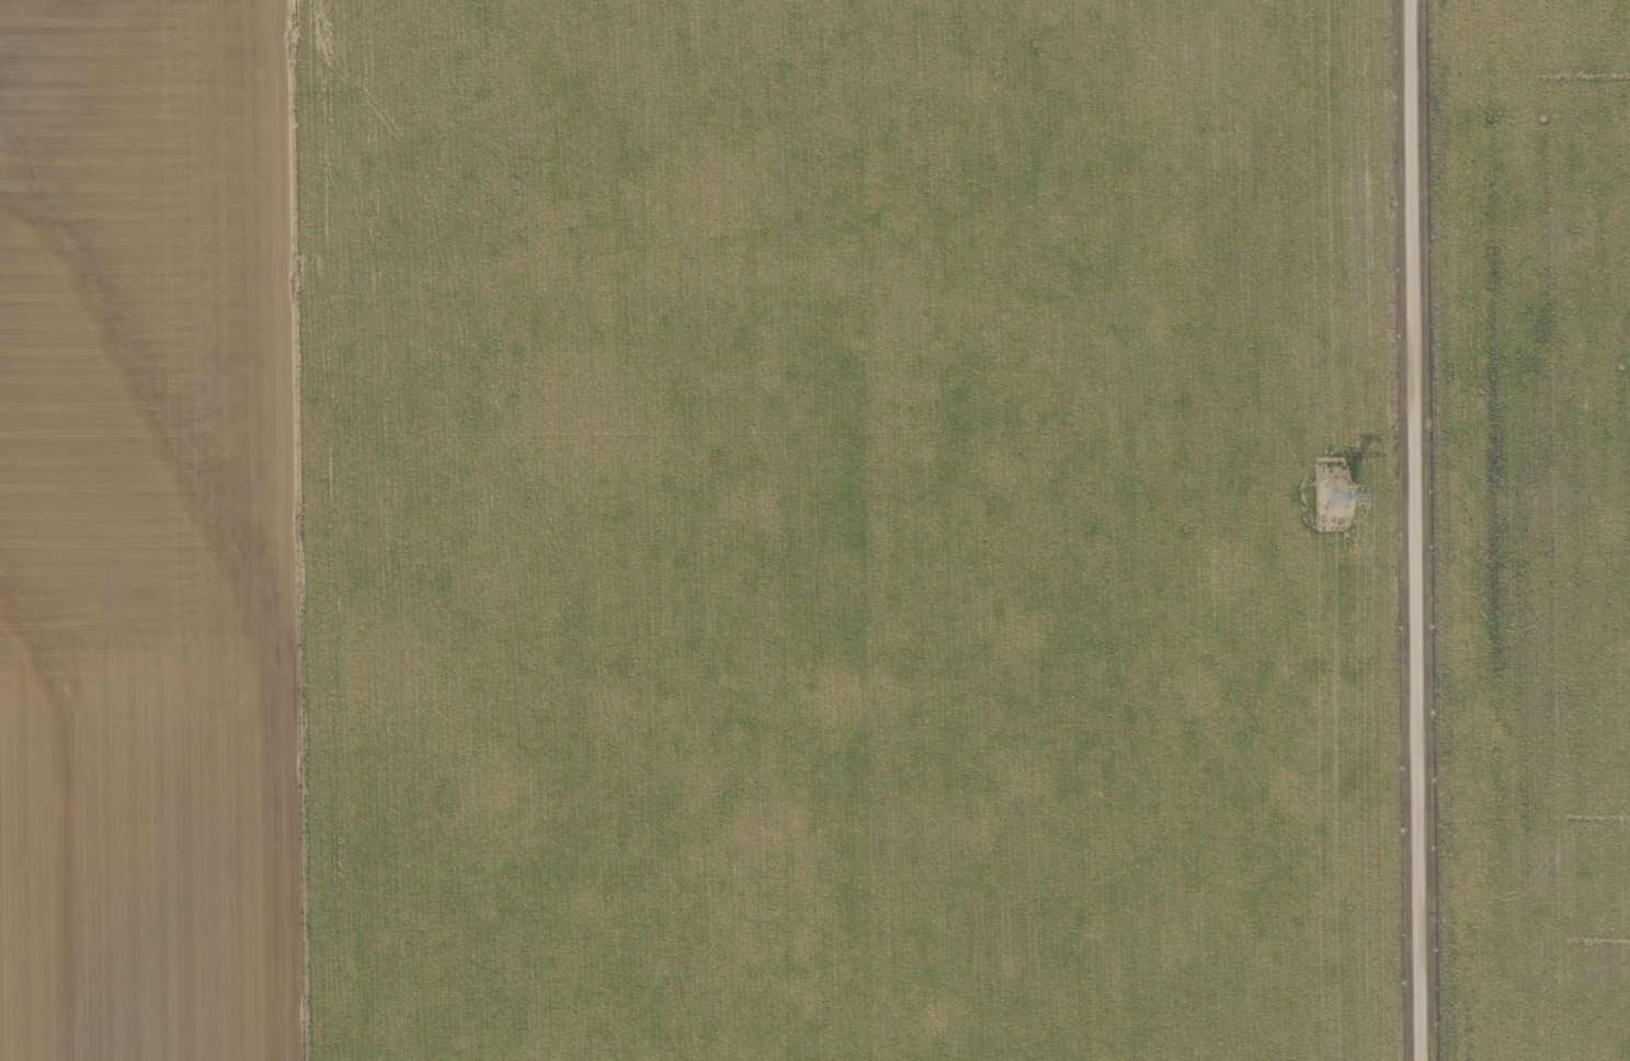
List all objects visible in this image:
power tower: (1334, 495)
road: (1420, 530)

